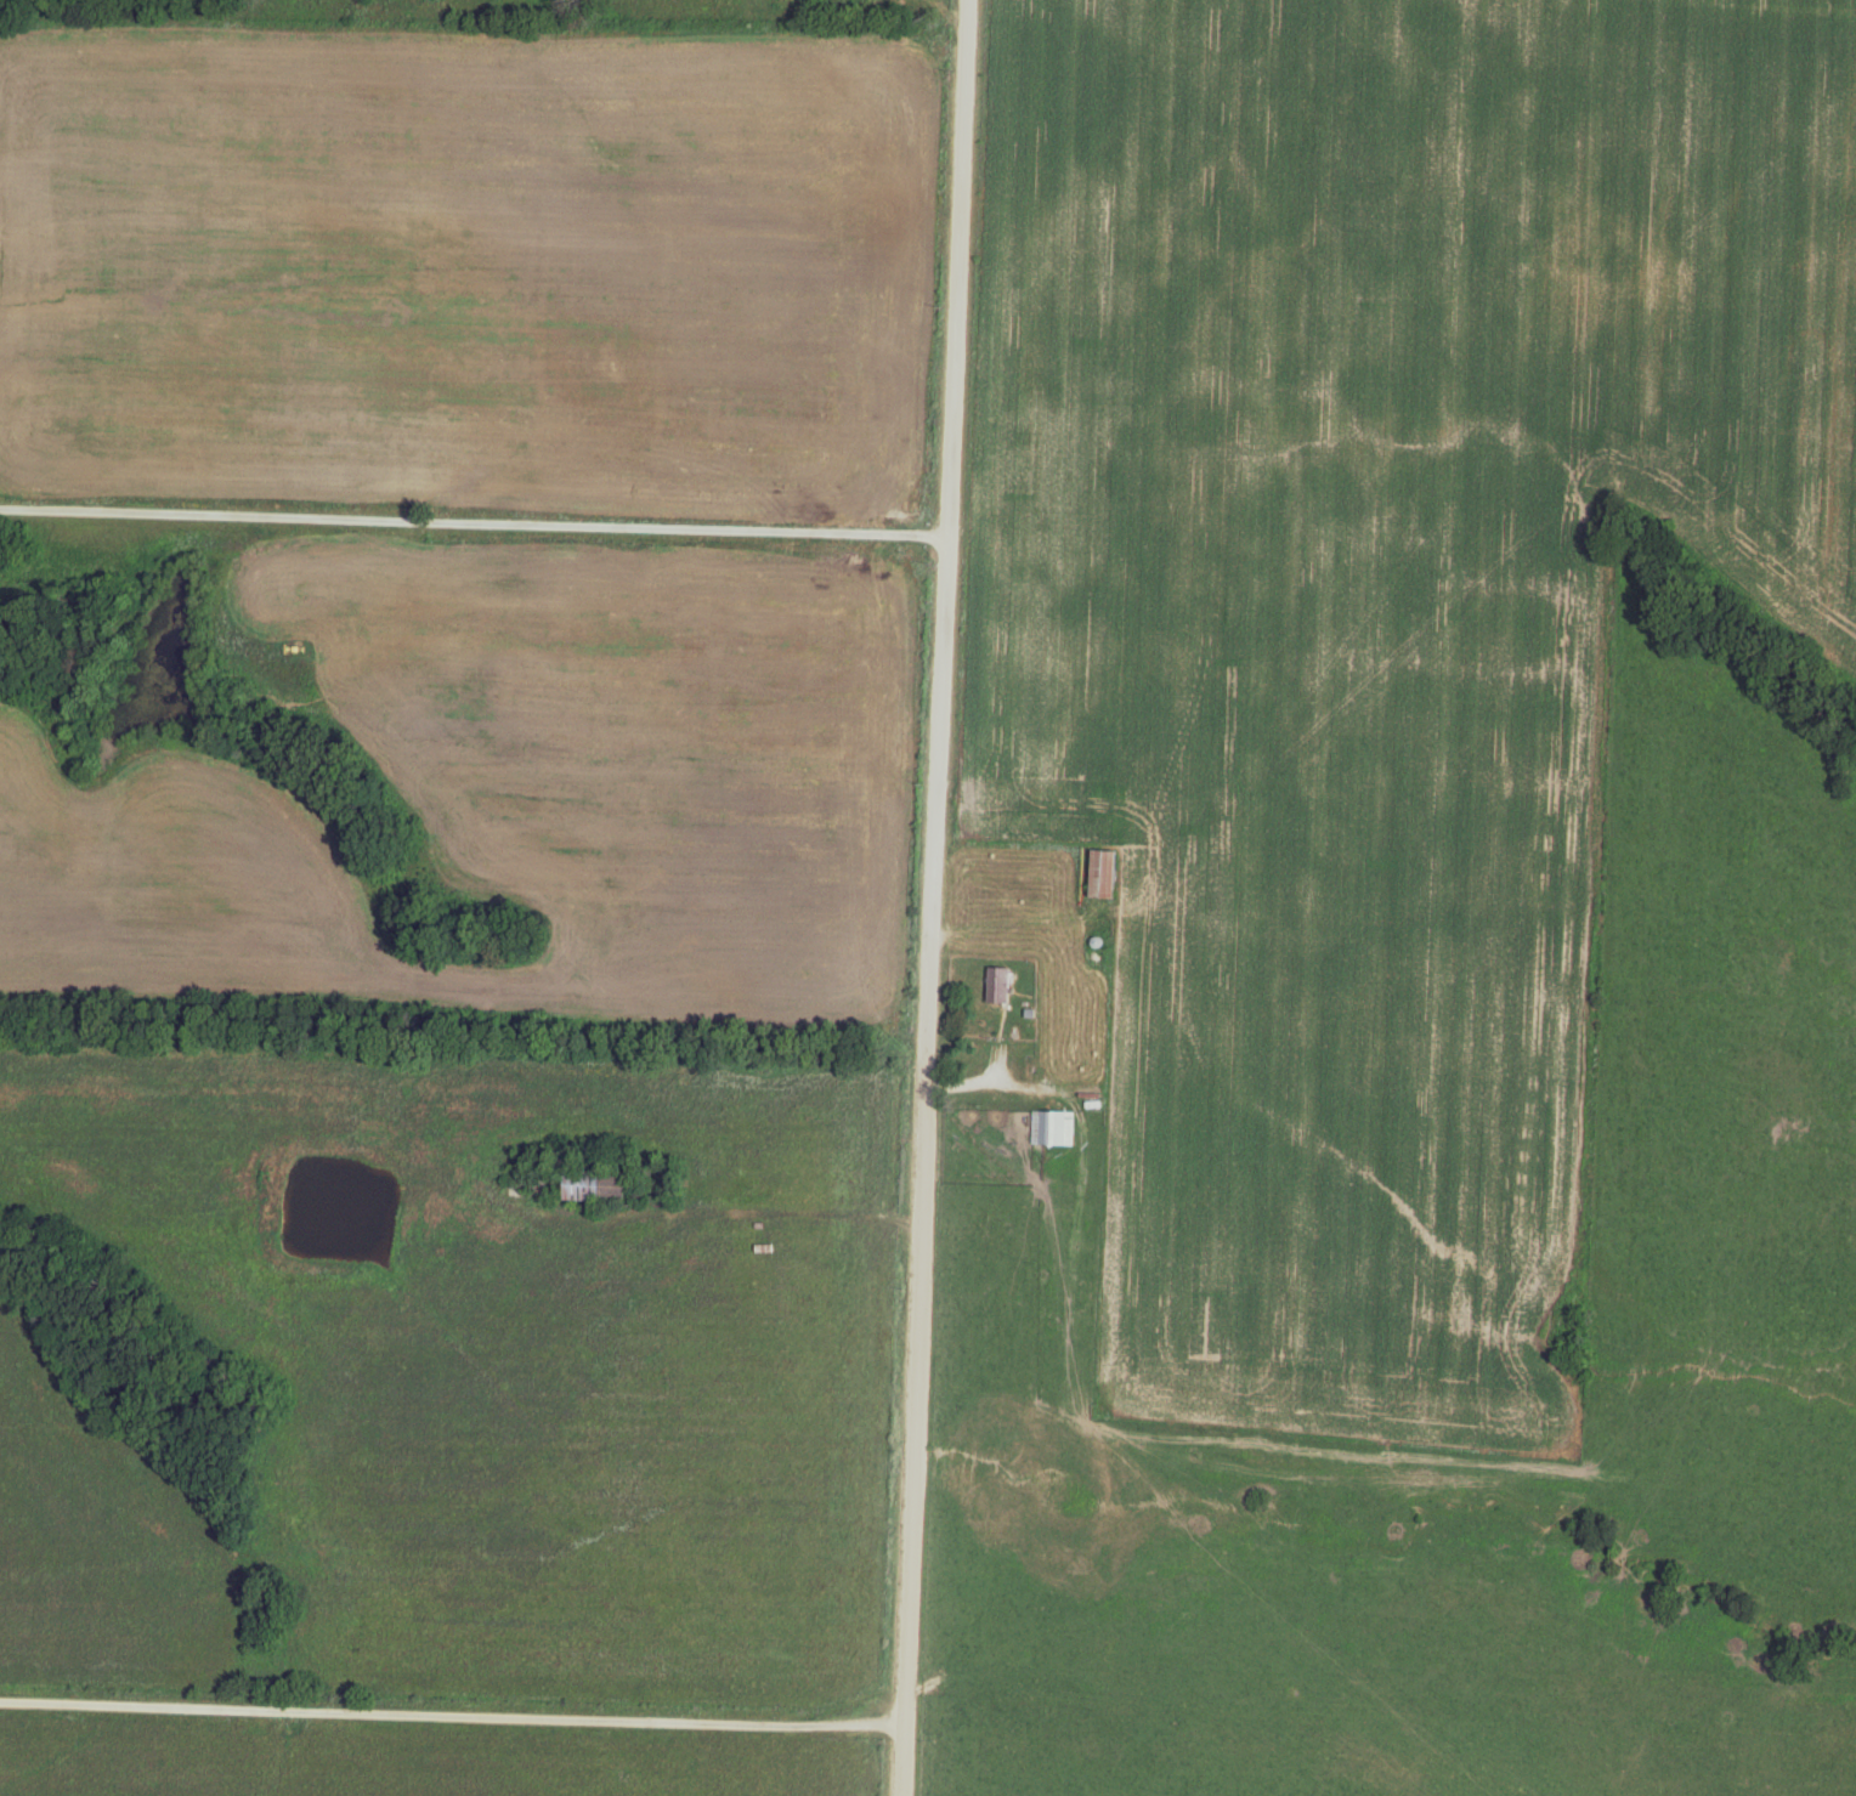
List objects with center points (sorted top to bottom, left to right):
road: (474, 522)
building: (1098, 873)
road: (933, 897)
building: (1028, 913)
building: (996, 984)
building: (1026, 1065)
building: (1074, 1065)
road: (990, 1082)
building: (1049, 1127)
building: (590, 1184)
road: (708, 1213)
road: (451, 1715)

